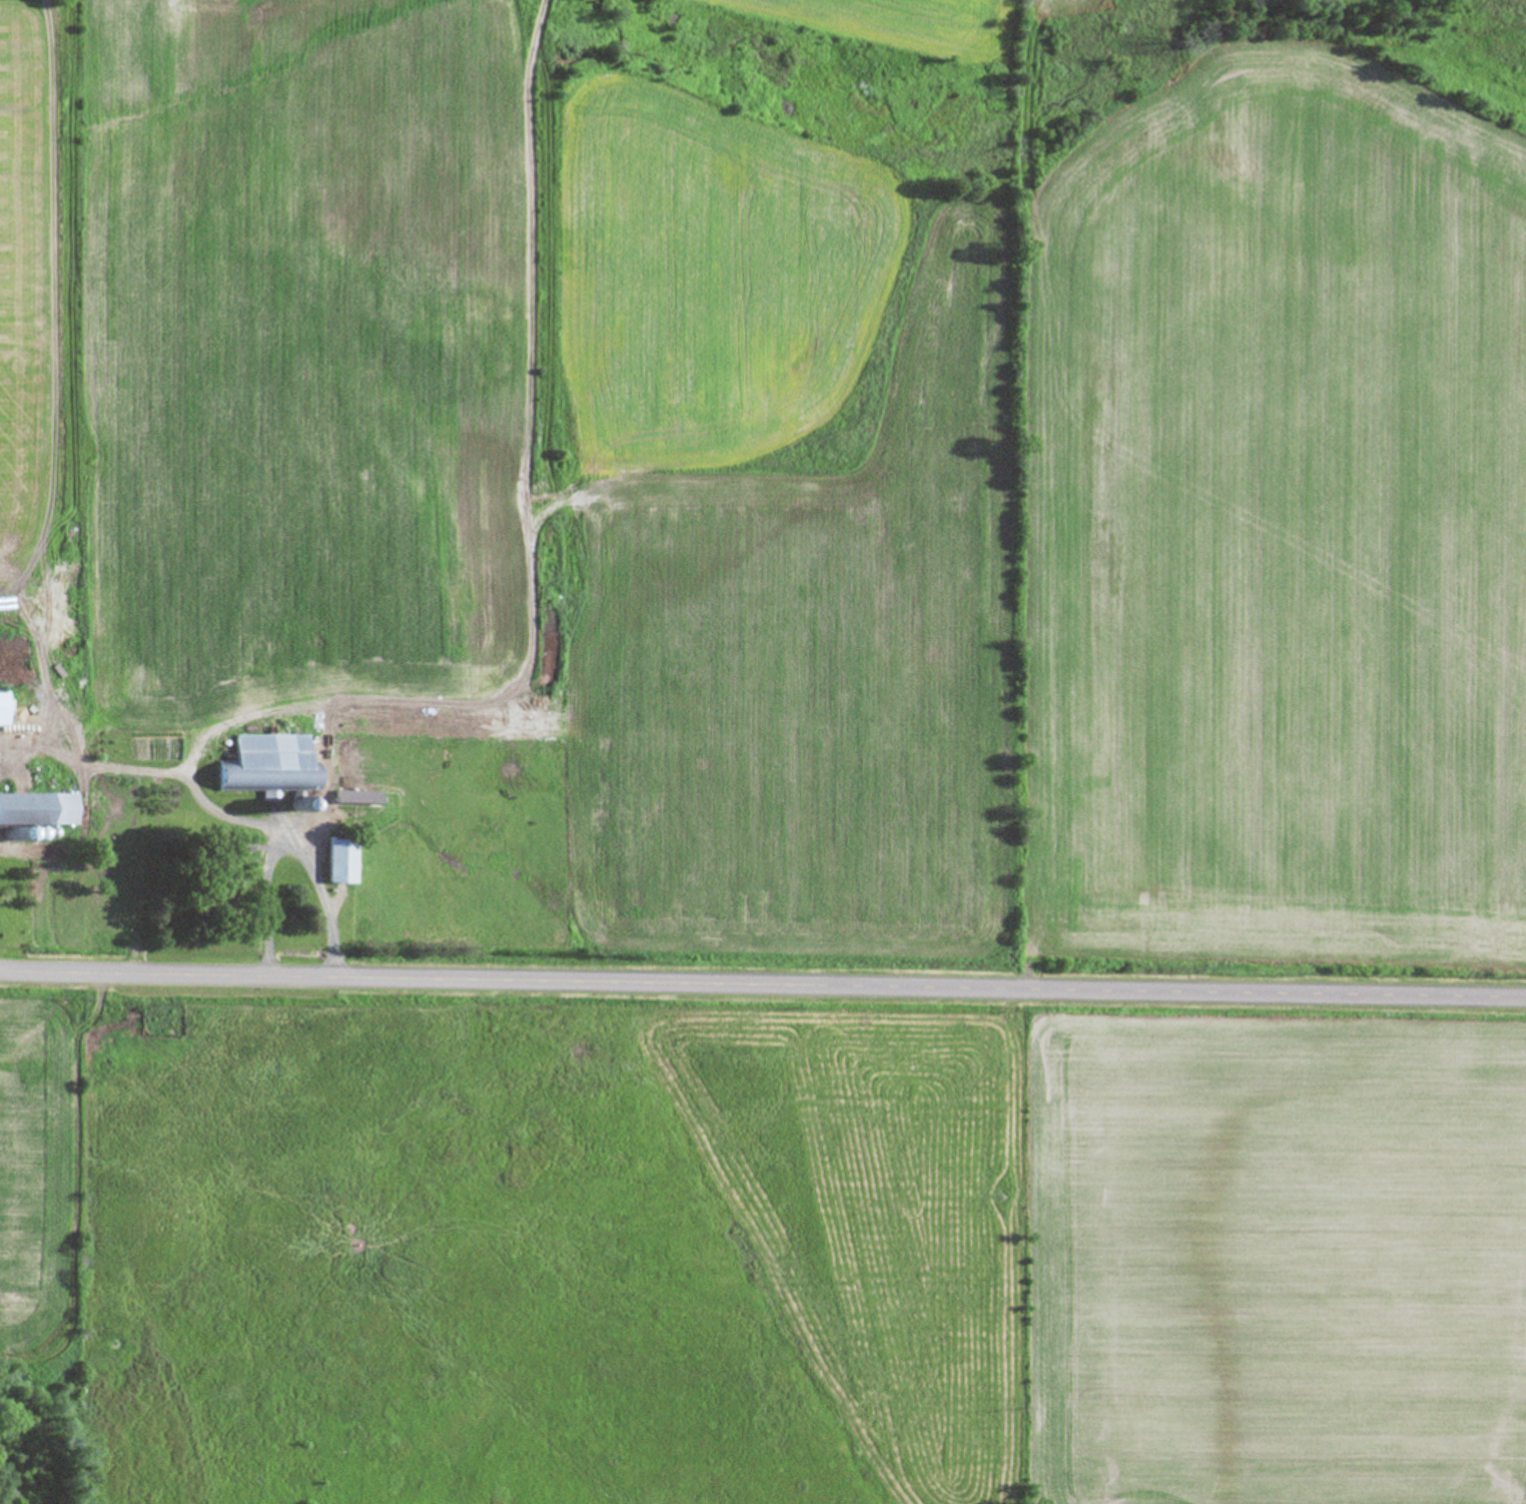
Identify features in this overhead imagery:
building: (2, 710)
building: (264, 779)
road: (212, 809)
building: (38, 810)
building: (339, 862)
road: (138, 871)
road: (262, 900)
road: (763, 983)

